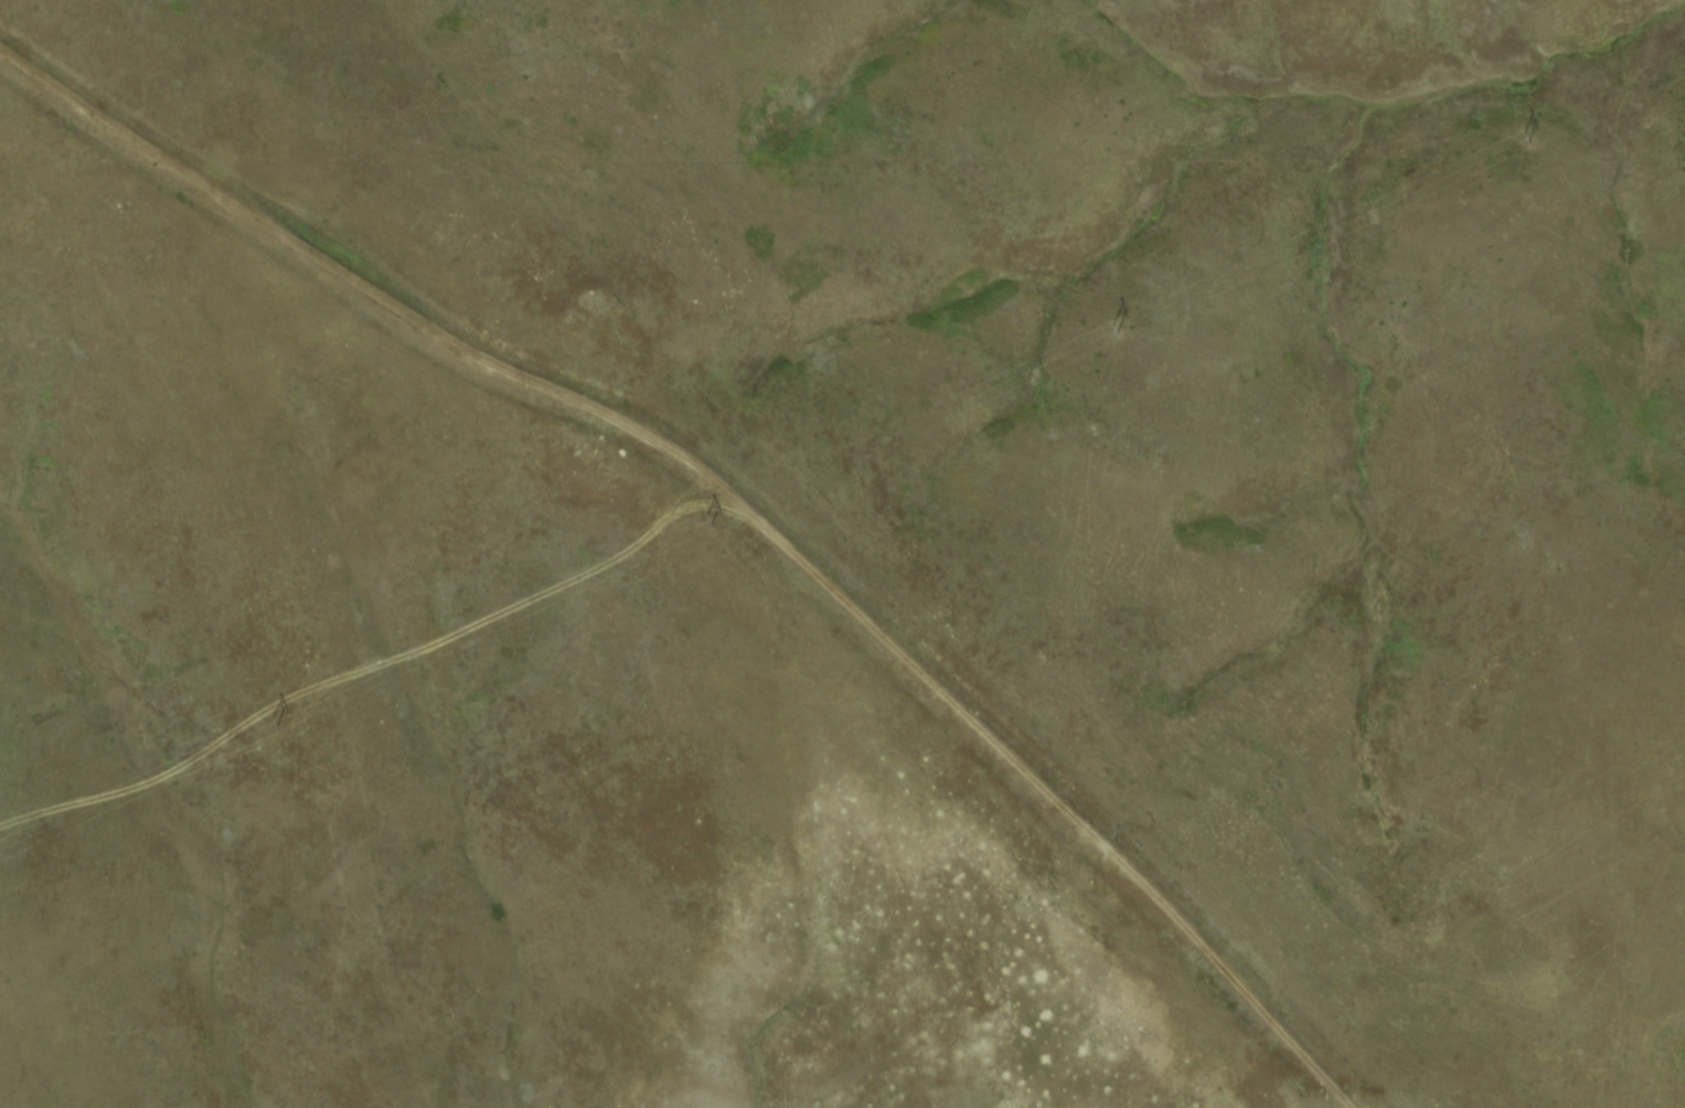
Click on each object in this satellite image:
power tower: (1522, 138)
power tower: (1111, 329)
power tower: (704, 518)
road: (724, 525)
power tower: (271, 720)

